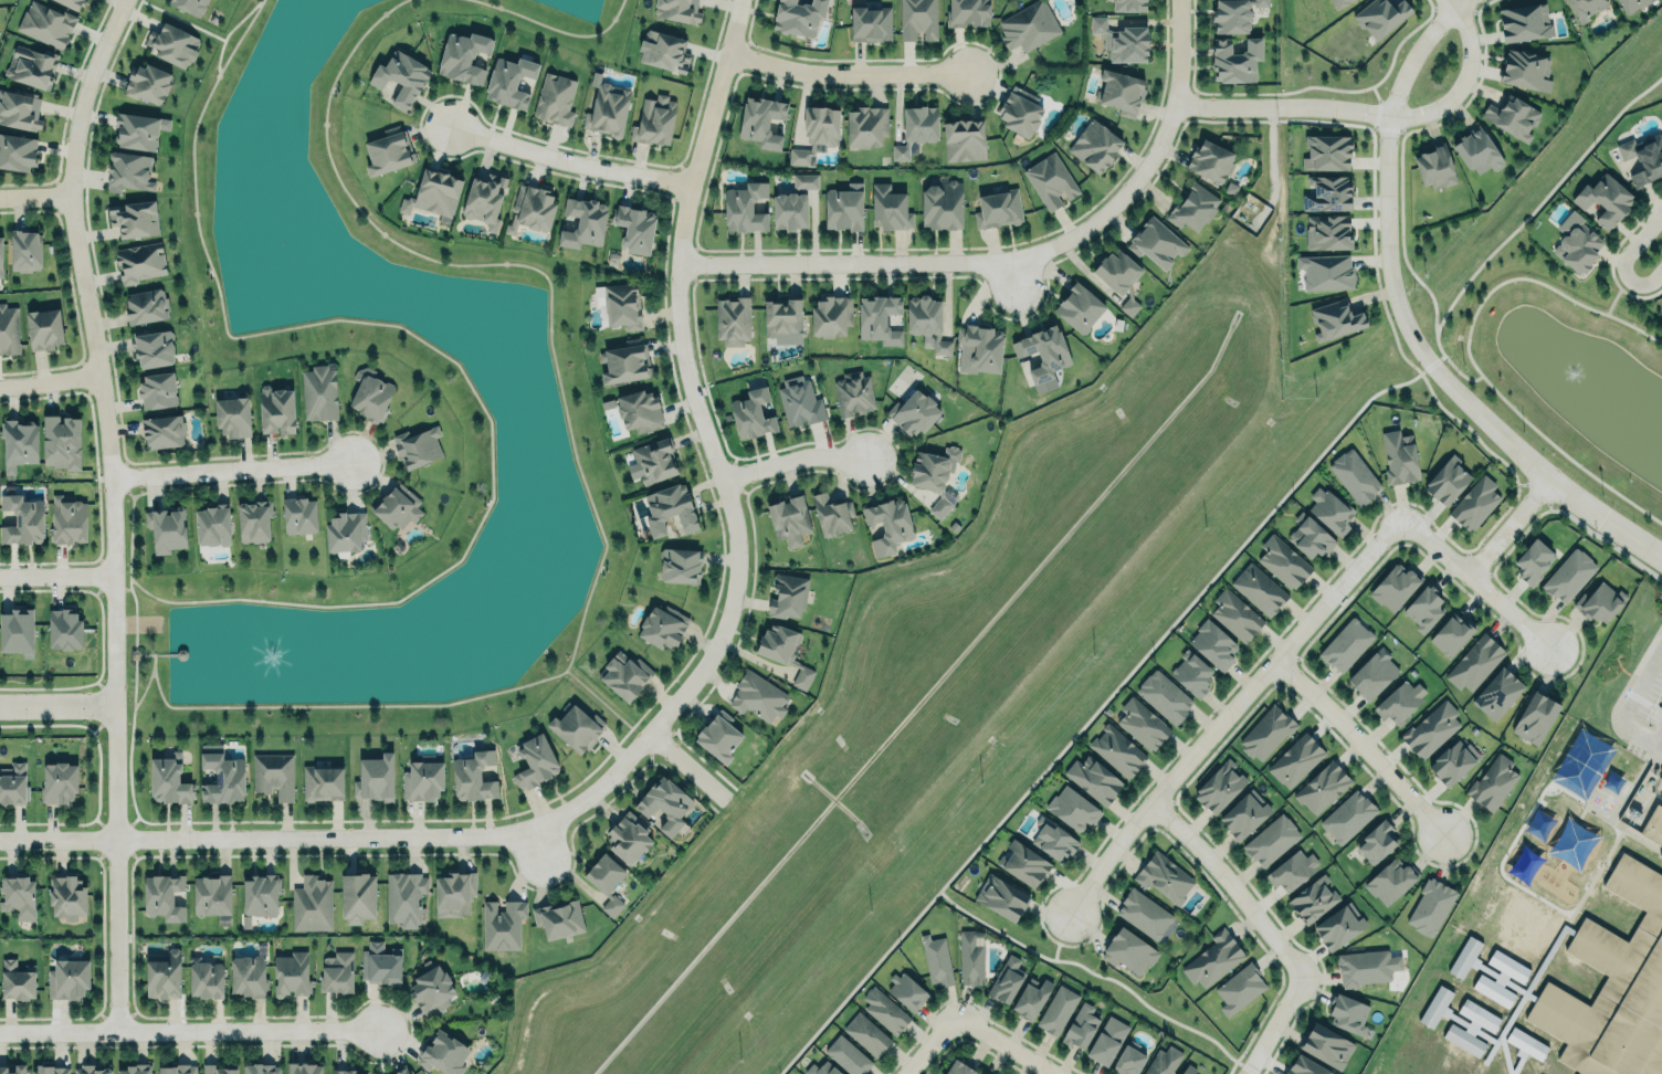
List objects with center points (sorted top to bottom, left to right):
building: (72, 2)
building: (1339, 2)
building: (1128, 4)
building: (1631, 4)
building: (190, 6)
building: (1584, 9)
building: (677, 10)
building: (967, 12)
building: (1233, 13)
building: (798, 15)
building: (1379, 15)
building: (917, 19)
road: (241, 20)
building: (1524, 21)
building: (870, 22)
building: (45, 23)
building: (1028, 25)
road: (553, 28)
road: (360, 35)
road: (239, 38)
building: (1122, 40)
building: (171, 44)
building: (663, 50)
building: (463, 57)
building: (1235, 57)
building: (31, 66)
building: (1525, 69)
road: (844, 73)
building: (401, 78)
road: (1463, 81)
building: (147, 82)
building: (509, 82)
building: (1119, 91)
building: (555, 97)
road: (1281, 106)
building: (20, 108)
building: (607, 108)
building: (1020, 110)
building: (1513, 116)
building: (653, 119)
building: (762, 120)
building: (865, 126)
building: (916, 127)
building: (138, 129)
building: (816, 130)
building: (964, 139)
building: (1094, 145)
building: (388, 149)
building: (1477, 149)
building: (1326, 150)
building: (17, 151)
road: (570, 156)
building: (1643, 156)
building: (1210, 159)
building: (1434, 164)
building: (128, 171)
building: (804, 180)
building: (1050, 180)
building: (1327, 192)
building: (434, 194)
road: (35, 196)
building: (484, 198)
building: (1605, 198)
building: (942, 203)
building: (888, 207)
building: (1192, 207)
building: (530, 208)
building: (745, 208)
building: (843, 208)
building: (998, 208)
building: (789, 209)
building: (135, 218)
building: (582, 221)
road: (1518, 225)
building: (634, 227)
building: (1327, 232)
fountain: (281, 243)
building: (1156, 243)
building: (1577, 244)
building: (25, 249)
building: (1, 255)
road: (1610, 255)
road: (1013, 257)
road: (1624, 260)
building: (139, 262)
building: (1117, 271)
building: (1326, 271)
road: (1013, 275)
road: (1614, 295)
building: (620, 304)
building: (146, 305)
building: (1129, 306)
building: (1079, 308)
building: (831, 314)
building: (782, 317)
building: (879, 317)
building: (1335, 318)
road: (1405, 319)
building: (733, 320)
building: (927, 323)
building: (43, 327)
building: (9, 329)
building: (982, 345)
building: (152, 346)
building: (1042, 350)
road: (1468, 351)
building: (624, 360)
park: (492, 362)
fountain: (1575, 369)
park: (1569, 378)
road: (49, 381)
building: (157, 389)
building: (851, 391)
building: (318, 392)
building: (370, 393)
building: (799, 400)
building: (276, 409)
building: (639, 410)
building: (914, 411)
building: (750, 413)
building: (232, 417)
building: (162, 430)
road: (706, 440)
building: (61, 441)
building: (19, 442)
building: (417, 446)
building: (1399, 456)
building: (653, 459)
road: (791, 460)
road: (229, 468)
building: (1354, 475)
building: (935, 476)
building: (1447, 481)
building: (1474, 503)
building: (397, 505)
road: (111, 507)
building: (670, 508)
building: (1329, 508)
building: (298, 514)
building: (831, 514)
building: (788, 515)
building: (21, 518)
building: (66, 518)
building: (253, 520)
road: (1510, 520)
building: (212, 524)
building: (888, 524)
road: (130, 526)
building: (166, 528)
building: (345, 531)
building: (1309, 535)
building: (1282, 560)
building: (1533, 560)
building: (680, 565)
road: (56, 576)
building: (1569, 576)
road: (1477, 578)
building: (1393, 585)
building: (1259, 588)
road: (122, 589)
building: (787, 594)
building: (1598, 602)
building: (1424, 609)
building: (1235, 614)
building: (662, 624)
building: (63, 628)
building: (17, 631)
building: (1451, 632)
building: (1213, 644)
building: (1346, 644)
fountain: (274, 651)
building: (783, 651)
road: (144, 653)
road: (165, 654)
road: (1281, 654)
road: (134, 662)
road: (152, 662)
building: (1475, 663)
building: (624, 673)
building: (1191, 673)
building: (1371, 674)
building: (1497, 693)
building: (1164, 696)
building: (757, 697)
building: (1400, 701)
road: (607, 703)
road: (1630, 703)
road: (1, 706)
road: (59, 706)
road: (1, 707)
road: (1097, 708)
building: (1535, 715)
building: (1142, 723)
building: (576, 727)
building: (1431, 728)
building: (1265, 731)
building: (718, 735)
road: (1363, 743)
building: (1117, 750)
building: (1295, 759)
building: (535, 760)
building: (1453, 761)
road: (685, 768)
building: (221, 773)
building: (273, 773)
road: (129, 776)
building: (473, 777)
building: (375, 778)
building: (1093, 778)
building: (167, 780)
building: (422, 780)
building: (57, 781)
building: (322, 781)
building: (1492, 782)
building: (12, 783)
building: (1219, 787)
building: (1322, 787)
building: (664, 803)
building: (1072, 808)
building: (1242, 812)
building: (1347, 815)
building: (1654, 822)
road: (528, 826)
road: (252, 836)
building: (629, 836)
building: (1052, 839)
building: (1270, 839)
building: (1374, 841)
road: (1112, 852)
building: (1660, 853)
building: (1023, 863)
building: (1292, 870)
building: (1164, 876)
building: (1389, 880)
building: (607, 881)
road: (548, 884)
road: (1233, 886)
building: (453, 893)
building: (260, 894)
building: (18, 895)
building: (164, 895)
building: (212, 896)
building: (357, 896)
building: (1000, 896)
building: (66, 897)
building: (404, 897)
building: (1312, 899)
building: (312, 904)
building: (1431, 905)
building: (1144, 913)
building: (558, 918)
building: (245, 922)
building: (502, 924)
building: (1338, 925)
building: (1128, 950)
building: (970, 958)
building: (1213, 958)
building: (936, 959)
building: (1470, 959)
building: (381, 965)
building: (1507, 966)
building: (1367, 967)
building: (337, 972)
building: (291, 973)
building: (164, 975)
building: (249, 976)
building: (67, 978)
building: (204, 978)
building: (1610, 978)
building: (1006, 979)
building: (15, 980)
building: (1239, 988)
building: (431, 990)
building: (907, 990)
building: (1493, 990)
building: (1031, 998)
building: (884, 1010)
building: (1058, 1010)
building: (1347, 1012)
building: (1479, 1014)
building: (1081, 1025)
road: (1273, 1026)
road: (190, 1030)
building: (865, 1033)
building: (1107, 1040)
building: (1463, 1040)
road: (928, 1042)
road: (1010, 1042)
building: (1526, 1043)
building: (1326, 1045)
building: (442, 1053)
building: (845, 1054)
building: (1128, 1061)
building: (1163, 1061)
building: (1305, 1066)
building: (822, 1067)
building: (50, 1068)
building: (134, 1068)
building: (177, 1068)
building: (217, 1068)
building: (261, 1068)
building: (304, 1068)
building: (959, 1068)
building: (1187, 1068)
building: (93, 1070)
building: (346, 1071)
building: (401, 1071)
building: (981, 1073)

